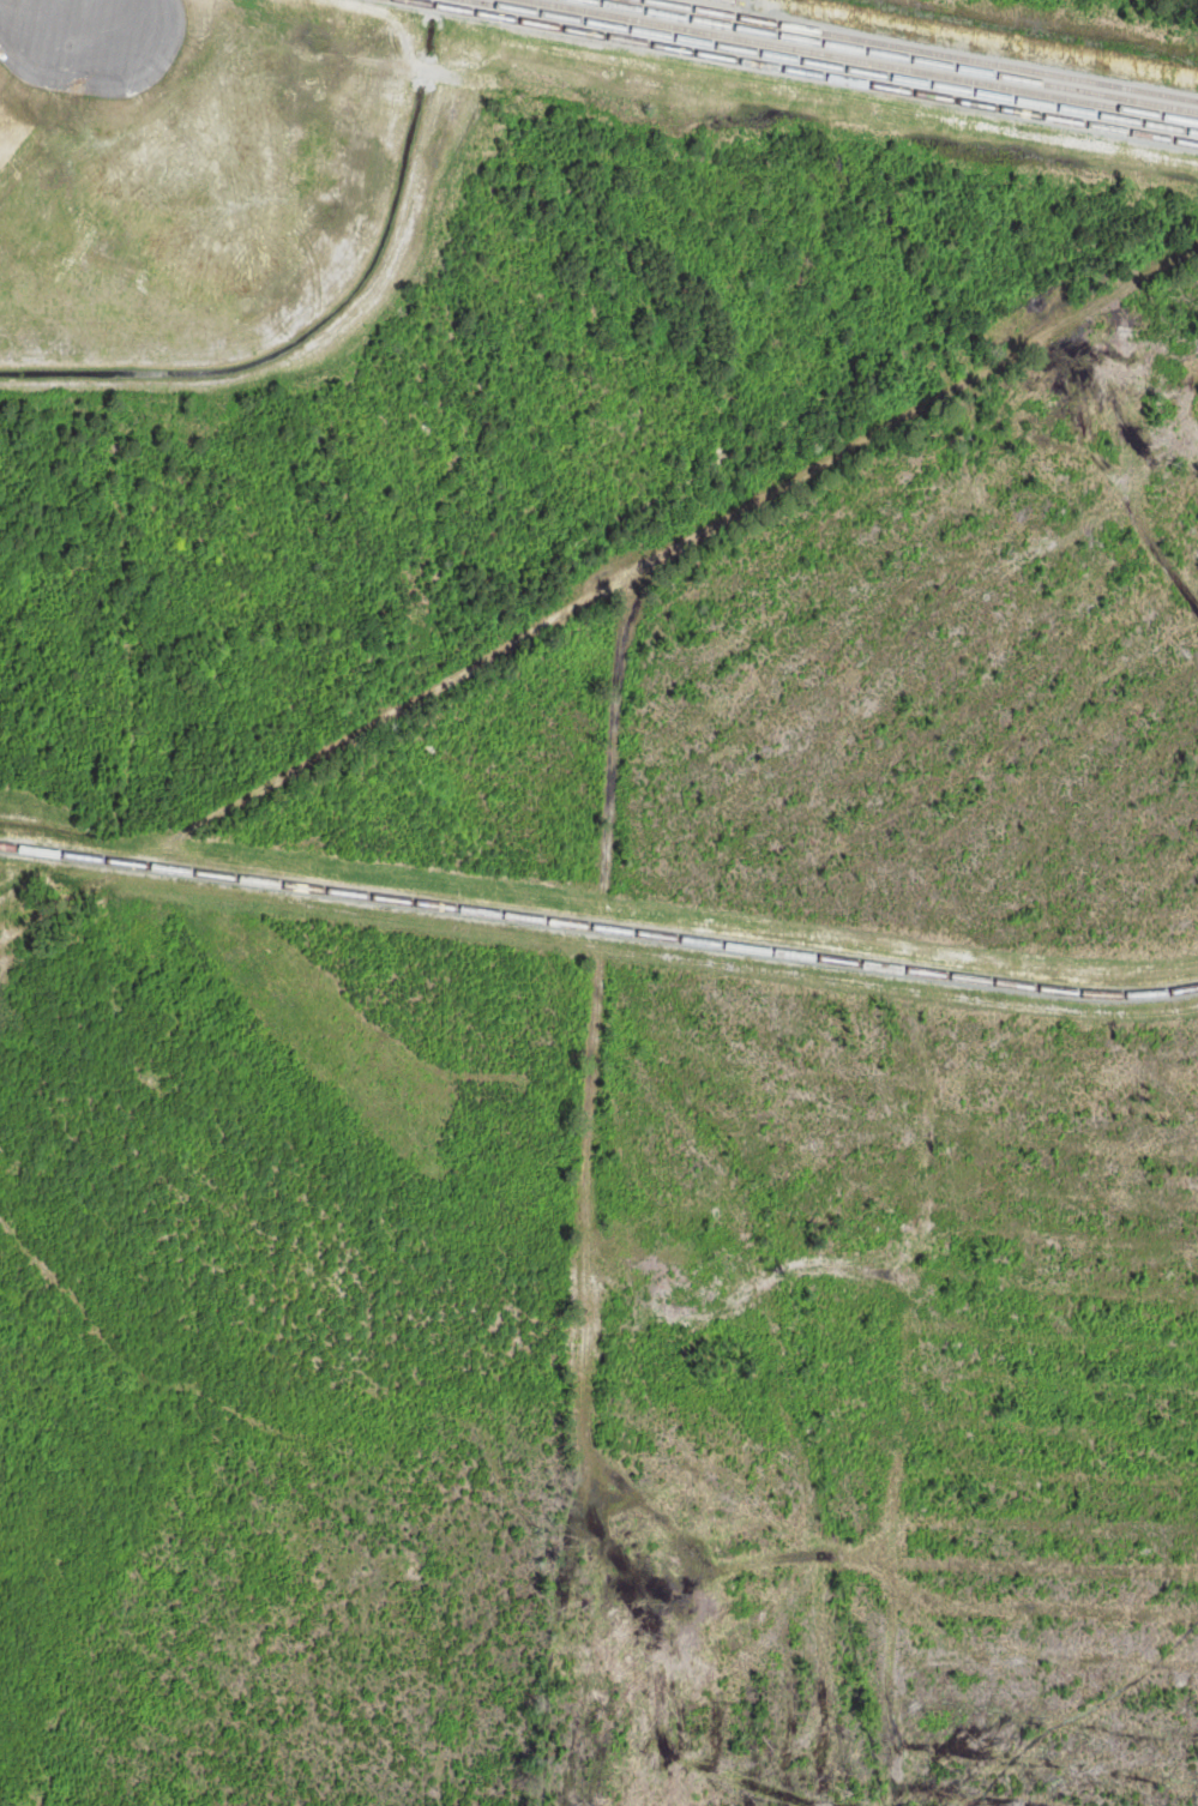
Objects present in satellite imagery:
road: (476, 52)

